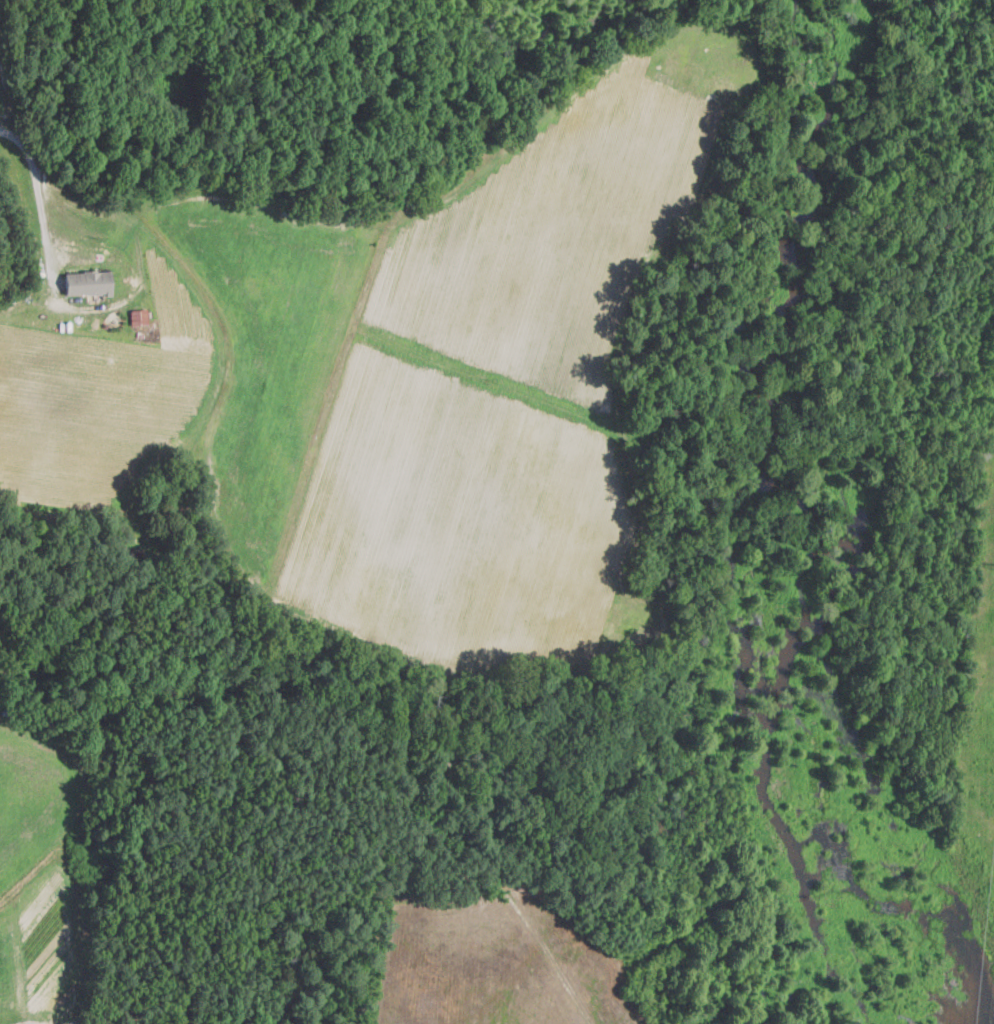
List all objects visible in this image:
road: (41, 171)
building: (88, 282)
building: (138, 316)
building: (29, 1023)

